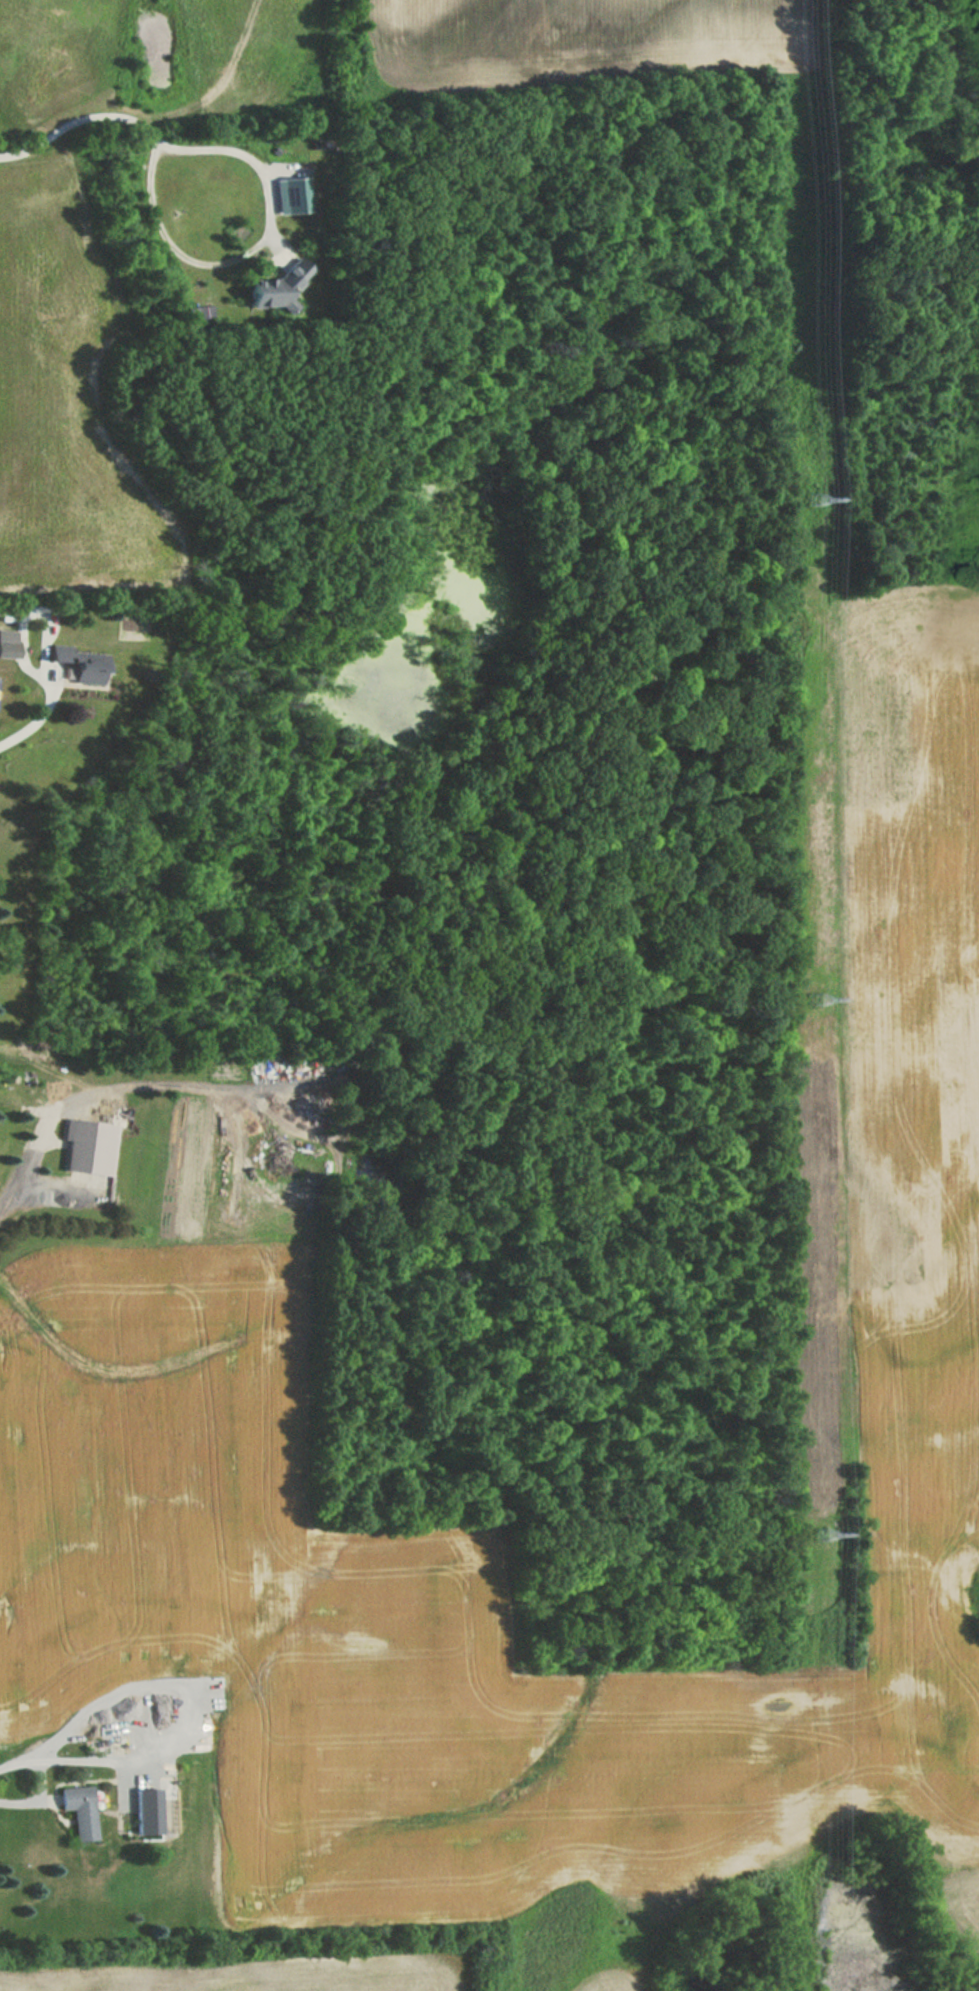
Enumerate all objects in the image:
road: (83, 117)
road: (250, 251)
power tower: (813, 502)
building: (9, 645)
building: (82, 664)
road: (48, 729)
power tower: (820, 1000)
building: (91, 1146)
road: (12, 1197)
power tower: (827, 1533)
road: (67, 1760)
road: (37, 1796)
building: (80, 1811)
building: (148, 1811)

